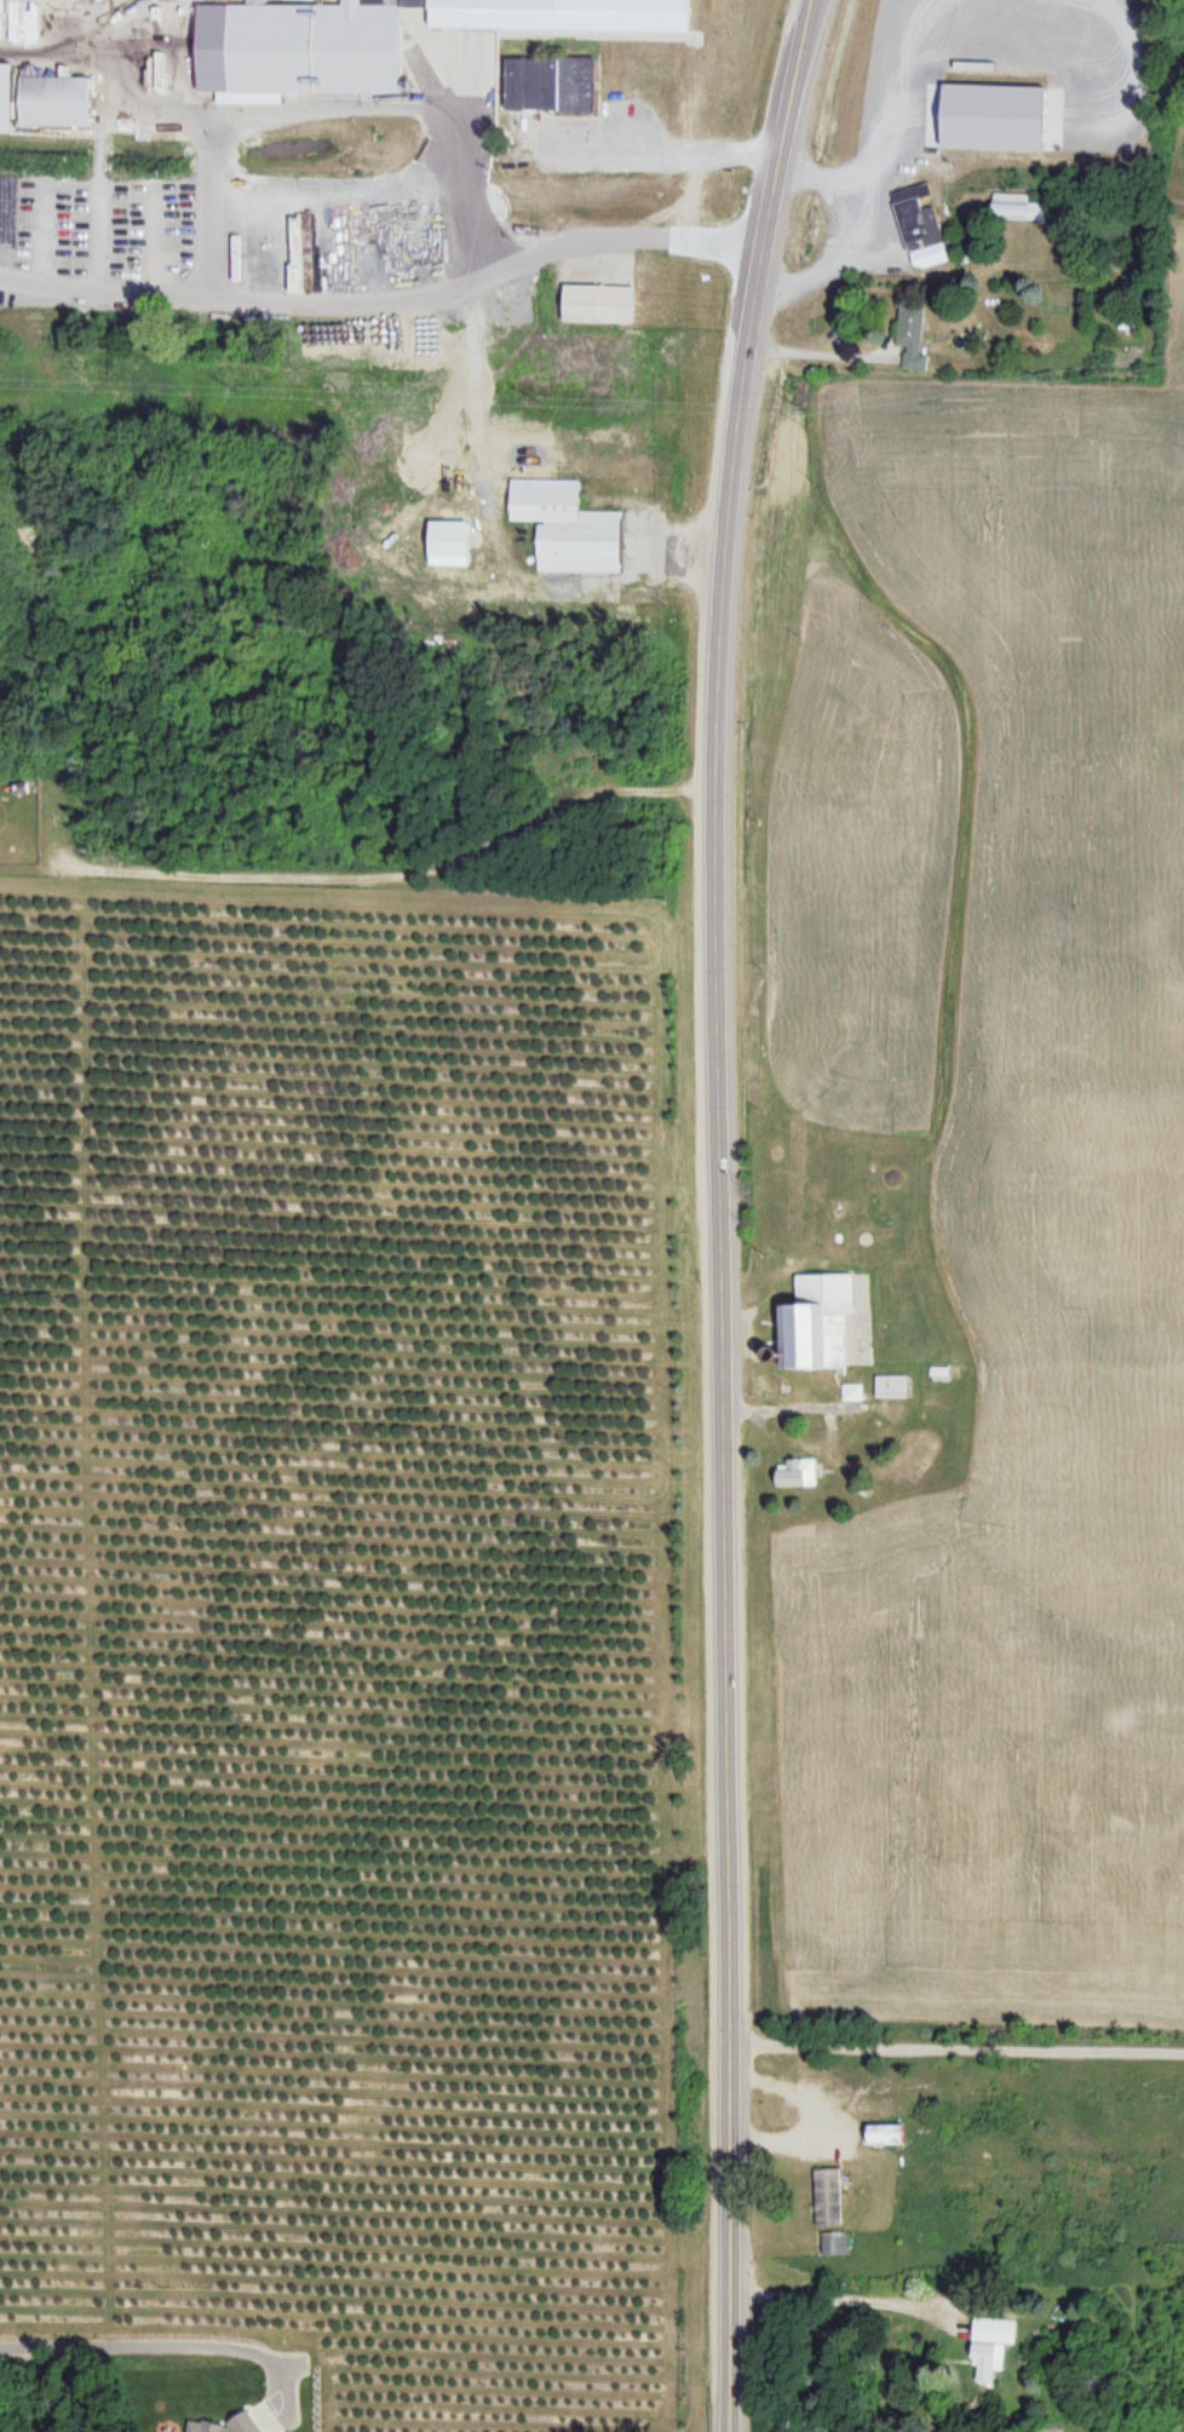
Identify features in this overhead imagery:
building: (50, 1)
building: (311, 50)
building: (552, 86)
building: (62, 103)
road: (278, 172)
building: (1019, 209)
building: (867, 224)
building: (920, 229)
building: (16, 259)
building: (149, 274)
building: (599, 306)
building: (914, 340)
building: (567, 529)
building: (455, 545)
building: (7, 822)
road: (372, 879)
road: (715, 1212)
building: (818, 1324)
building: (890, 1389)
building: (850, 1395)
building: (798, 1476)
road: (954, 2048)
building: (887, 2135)
building: (829, 2200)
building: (837, 2247)
building: (992, 2333)

